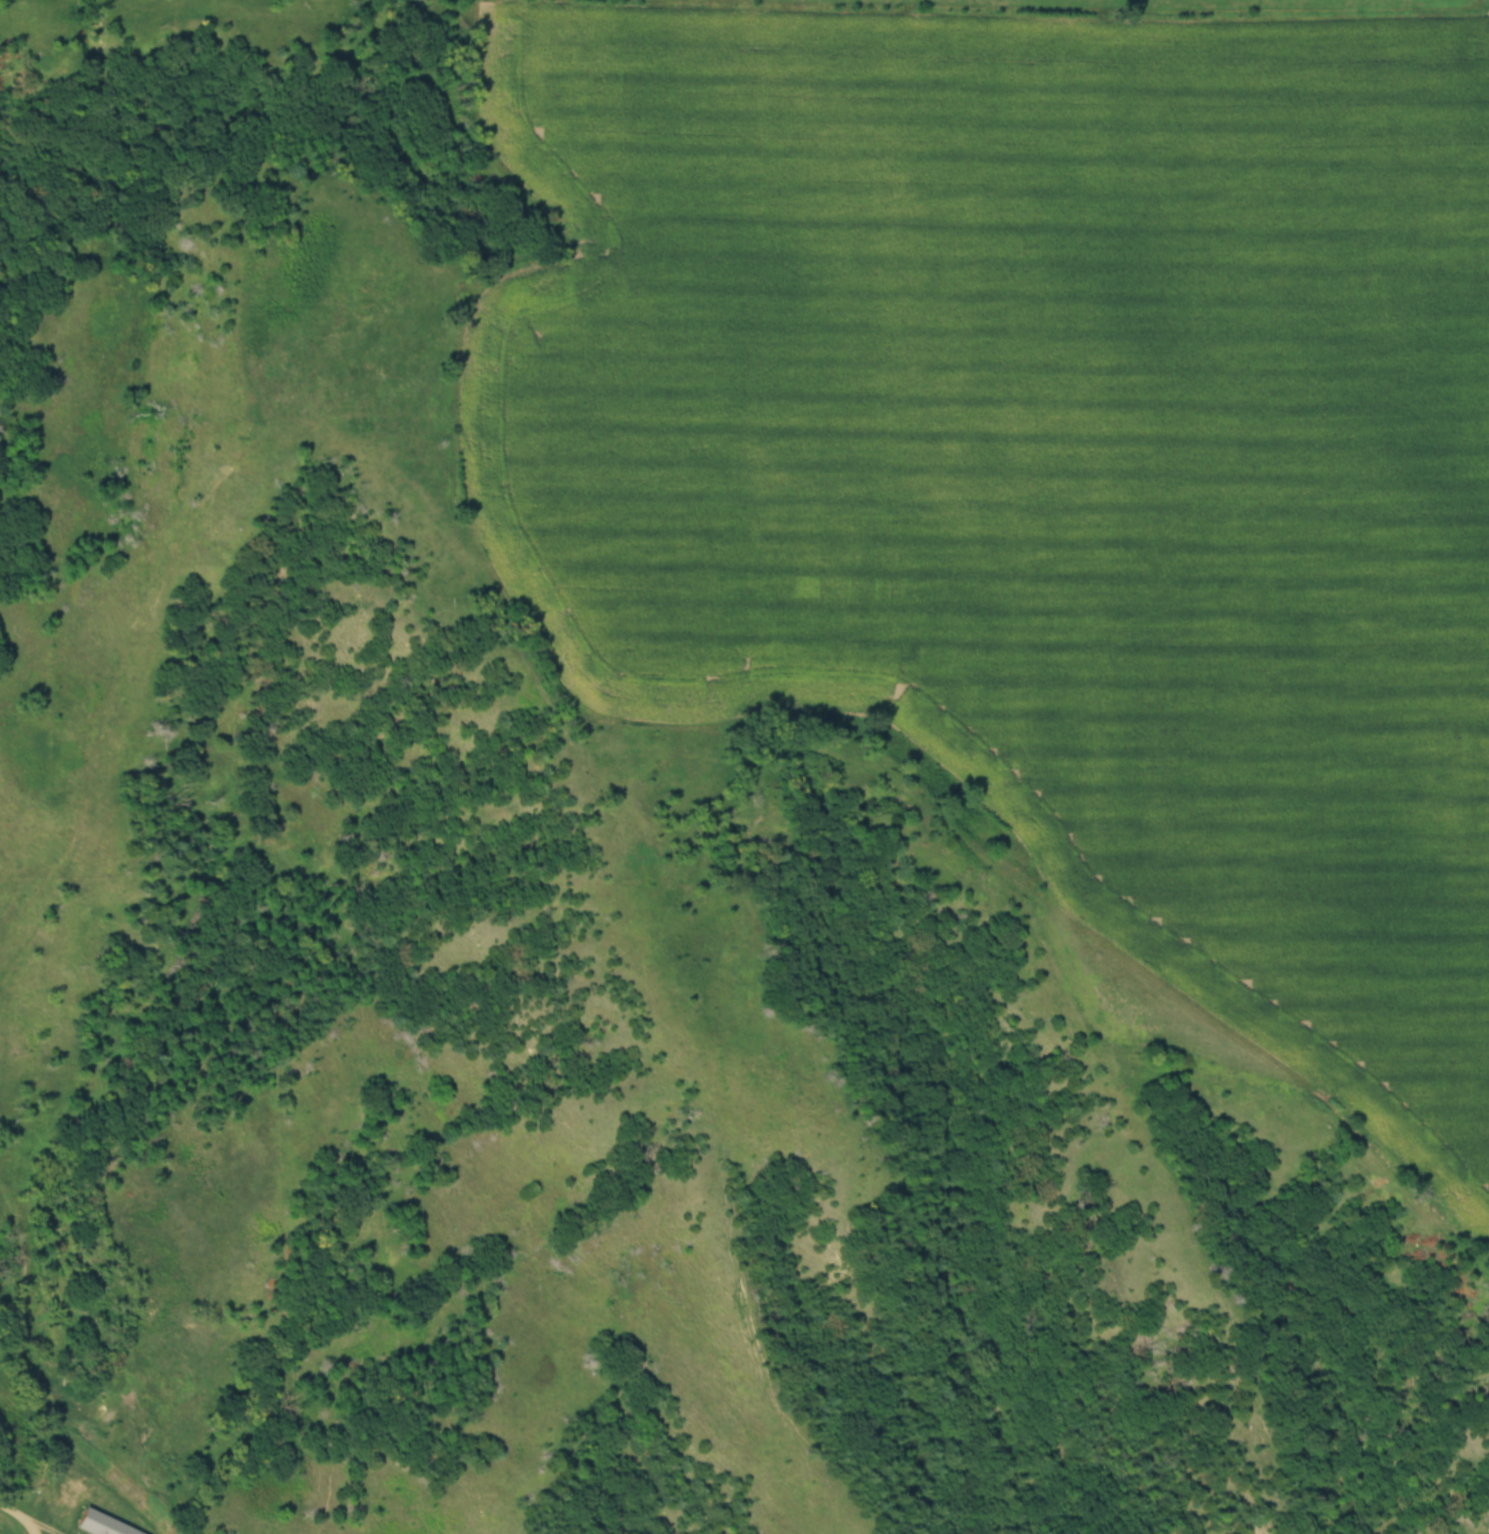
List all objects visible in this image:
road: (16, 1510)
building: (97, 1524)
road: (33, 1526)
road: (48, 1526)

